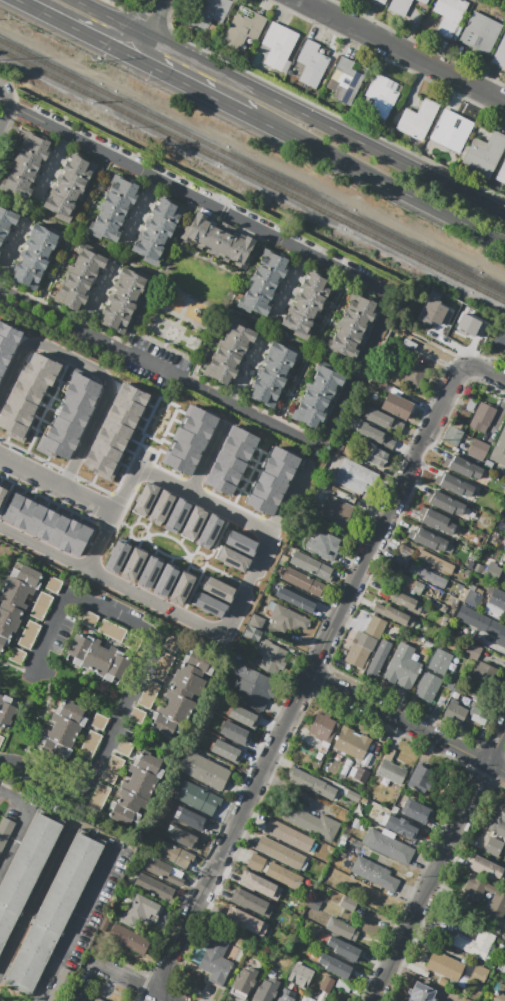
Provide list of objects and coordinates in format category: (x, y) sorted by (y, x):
building: (381, 1)
building: (424, 1)
building: (400, 6)
building: (210, 13)
road: (101, 16)
building: (449, 16)
road: (147, 17)
road: (66, 26)
building: (244, 28)
building: (480, 32)
road: (125, 43)
building: (278, 45)
road: (403, 49)
building: (500, 53)
building: (311, 64)
building: (346, 81)
road: (183, 86)
building: (380, 98)
road: (6, 106)
building: (418, 120)
road: (319, 124)
building: (450, 132)
building: (484, 154)
building: (25, 165)
railway: (252, 166)
road: (51, 167)
building: (501, 173)
railway: (252, 176)
road: (377, 182)
building: (69, 185)
building: (113, 208)
road: (138, 213)
building: (6, 222)
building: (158, 230)
building: (218, 242)
road: (11, 245)
building: (34, 256)
building: (79, 279)
building: (263, 282)
road: (291, 282)
road: (96, 297)
building: (123, 299)
building: (306, 304)
building: (435, 313)
road: (388, 322)
building: (351, 326)
building: (470, 326)
building: (10, 332)
road: (374, 337)
building: (499, 339)
building: (194, 343)
road: (431, 343)
building: (7, 345)
road: (453, 345)
road: (472, 346)
building: (229, 353)
building: (4, 358)
building: (44, 363)
building: (2, 369)
road: (95, 370)
road: (482, 370)
road: (246, 371)
building: (273, 373)
building: (38, 374)
building: (414, 374)
building: (0, 378)
building: (85, 383)
building: (31, 384)
building: (377, 384)
building: (79, 393)
building: (26, 394)
building: (133, 394)
building: (317, 396)
building: (470, 404)
building: (21, 405)
building: (396, 405)
building: (77, 406)
building: (127, 406)
building: (15, 415)
building: (72, 416)
building: (122, 417)
building: (202, 417)
building: (481, 417)
building: (382, 419)
road: (496, 420)
building: (12, 427)
building: (66, 427)
building: (116, 428)
building: (196, 429)
building: (374, 435)
building: (452, 436)
building: (61, 437)
building: (242, 437)
building: (111, 440)
building: (190, 440)
building: (55, 448)
building: (236, 449)
building: (105, 450)
building: (478, 450)
building: (499, 450)
building: (185, 452)
building: (375, 456)
building: (283, 458)
road: (206, 460)
building: (230, 460)
building: (98, 462)
building: (179, 463)
building: (463, 466)
building: (277, 469)
building: (225, 472)
building: (354, 476)
building: (272, 481)
building: (219, 483)
road: (57, 485)
building: (454, 485)
building: (267, 492)
building: (2, 493)
building: (145, 498)
road: (204, 499)
building: (445, 502)
building: (260, 504)
building: (161, 506)
building: (13, 508)
road: (115, 512)
building: (338, 512)
building: (24, 513)
building: (177, 514)
building: (35, 519)
building: (436, 521)
building: (193, 522)
building: (46, 525)
building: (57, 530)
building: (209, 530)
building: (69, 535)
building: (428, 538)
building: (79, 540)
building: (239, 542)
building: (324, 544)
road: (262, 550)
building: (405, 551)
building: (116, 556)
building: (231, 559)
building: (401, 559)
building: (434, 562)
building: (132, 564)
building: (311, 566)
building: (492, 571)
building: (149, 572)
building: (427, 576)
road: (112, 580)
building: (164, 580)
building: (302, 582)
building: (407, 583)
building: (53, 585)
building: (181, 588)
building: (218, 589)
building: (472, 596)
building: (14, 598)
building: (402, 599)
building: (295, 600)
building: (209, 605)
building: (496, 605)
building: (41, 606)
building: (394, 615)
building: (284, 618)
building: (90, 620)
building: (256, 622)
building: (482, 623)
building: (375, 627)
building: (112, 631)
building: (253, 633)
building: (29, 634)
road: (491, 644)
building: (359, 649)
building: (472, 651)
building: (17, 656)
building: (272, 657)
building: (98, 658)
building: (379, 658)
building: (440, 661)
building: (402, 668)
building: (485, 674)
road: (138, 676)
building: (155, 679)
road: (306, 679)
building: (252, 685)
building: (427, 686)
building: (180, 696)
building: (480, 705)
building: (6, 710)
building: (455, 713)
building: (243, 716)
road: (407, 721)
building: (99, 722)
building: (65, 723)
building: (323, 728)
building: (235, 733)
building: (1, 740)
building: (345, 740)
building: (90, 745)
building: (359, 746)
building: (125, 748)
building: (226, 751)
building: (367, 759)
building: (390, 768)
building: (113, 769)
building: (204, 770)
building: (361, 775)
building: (420, 778)
building: (312, 784)
building: (135, 788)
building: (99, 796)
building: (353, 796)
building: (197, 798)
road: (15, 800)
building: (417, 812)
building: (497, 819)
building: (310, 820)
building: (401, 826)
building: (5, 832)
building: (189, 834)
building: (289, 836)
road: (15, 838)
building: (388, 847)
building: (493, 847)
building: (169, 852)
building: (504, 852)
building: (281, 853)
road: (437, 863)
road: (393, 866)
building: (488, 870)
building: (25, 871)
building: (163, 871)
building: (274, 872)
building: (374, 873)
building: (259, 886)
building: (154, 887)
building: (477, 888)
road: (35, 899)
building: (251, 903)
building: (314, 903)
building: (496, 907)
building: (141, 911)
building: (53, 913)
building: (245, 922)
road: (74, 924)
building: (342, 929)
building: (128, 939)
building: (475, 944)
building: (345, 948)
building: (216, 960)
building: (337, 966)
building: (444, 966)
building: (464, 973)
building: (479, 973)
building: (300, 975)
road: (137, 981)
building: (244, 982)
building: (326, 984)
building: (61, 985)
building: (343, 986)
building: (266, 989)
building: (420, 993)
building: (500, 993)
building: (76, 995)
building: (286, 995)
building: (97, 999)
building: (333, 1000)

